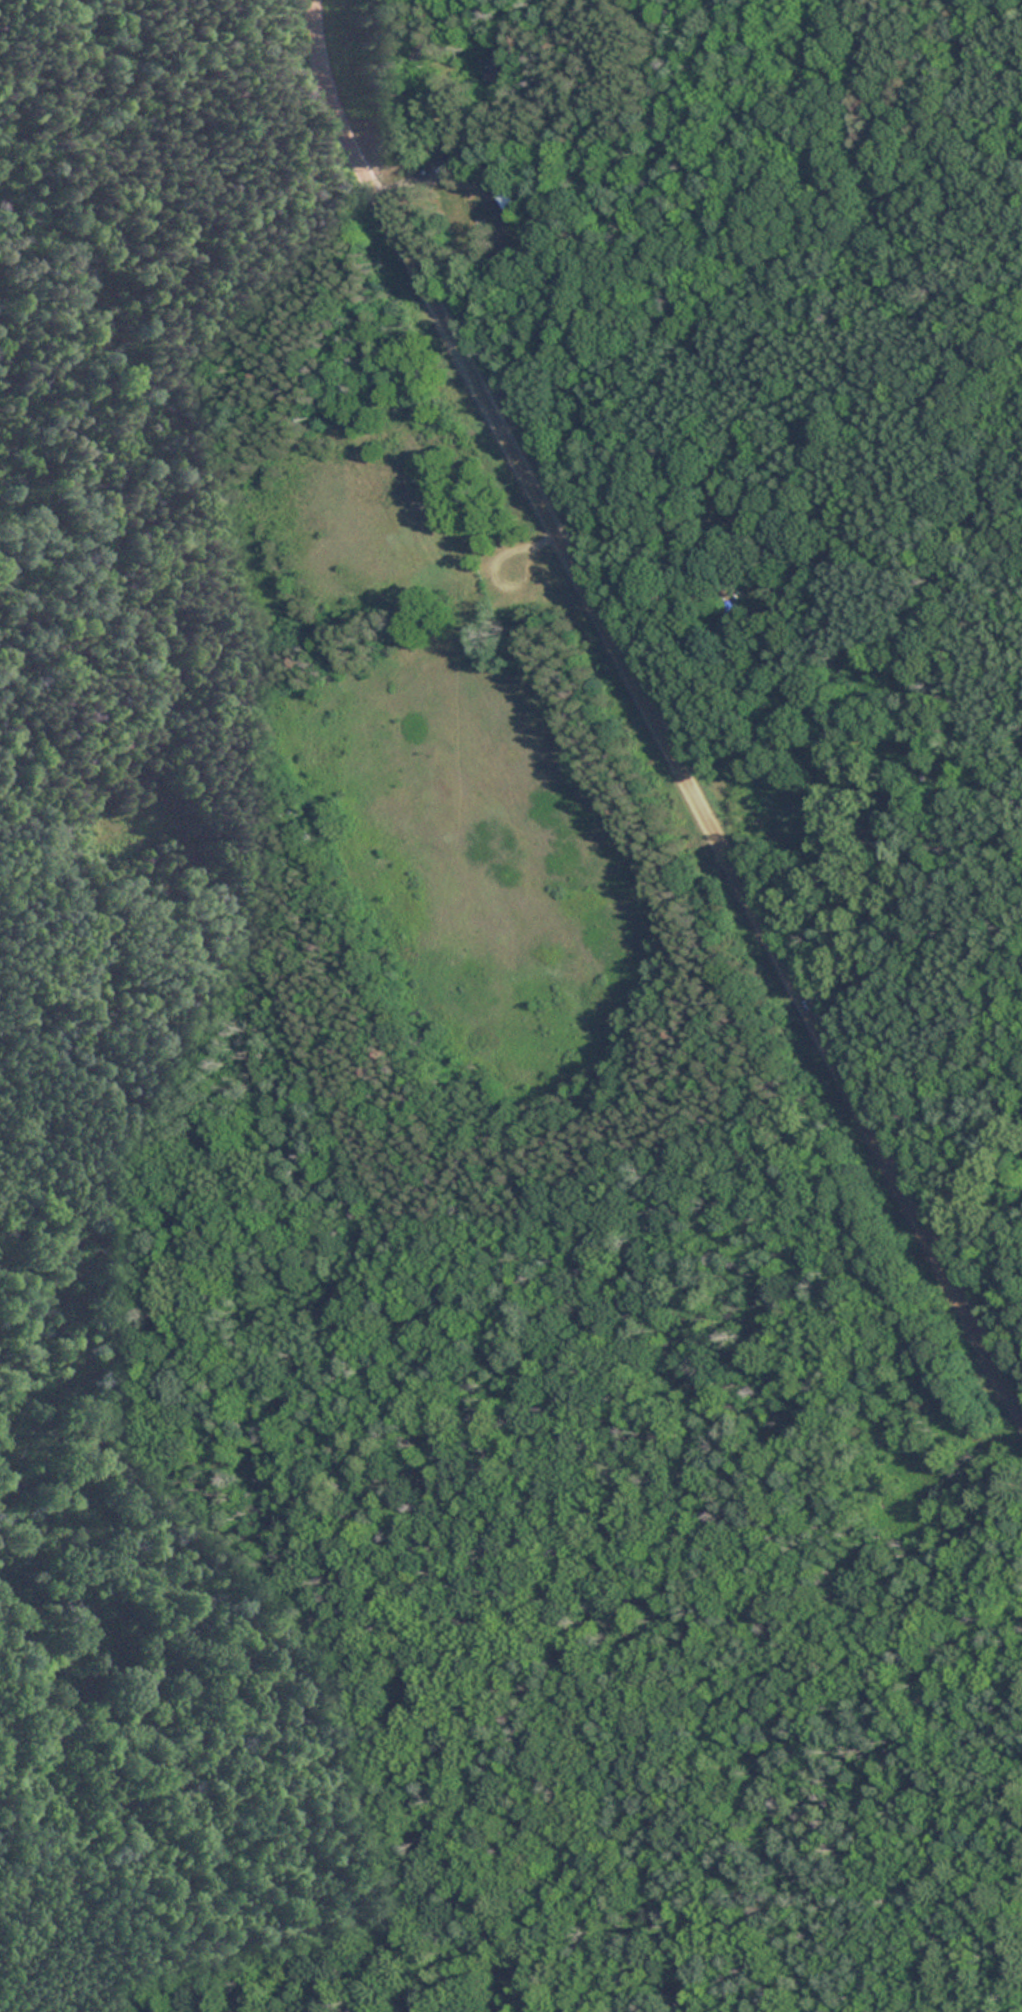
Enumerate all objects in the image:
building: (422, 47)
building: (492, 65)
park: (887, 120)
building: (453, 160)
building: (502, 195)
road: (650, 715)
park: (425, 1190)

